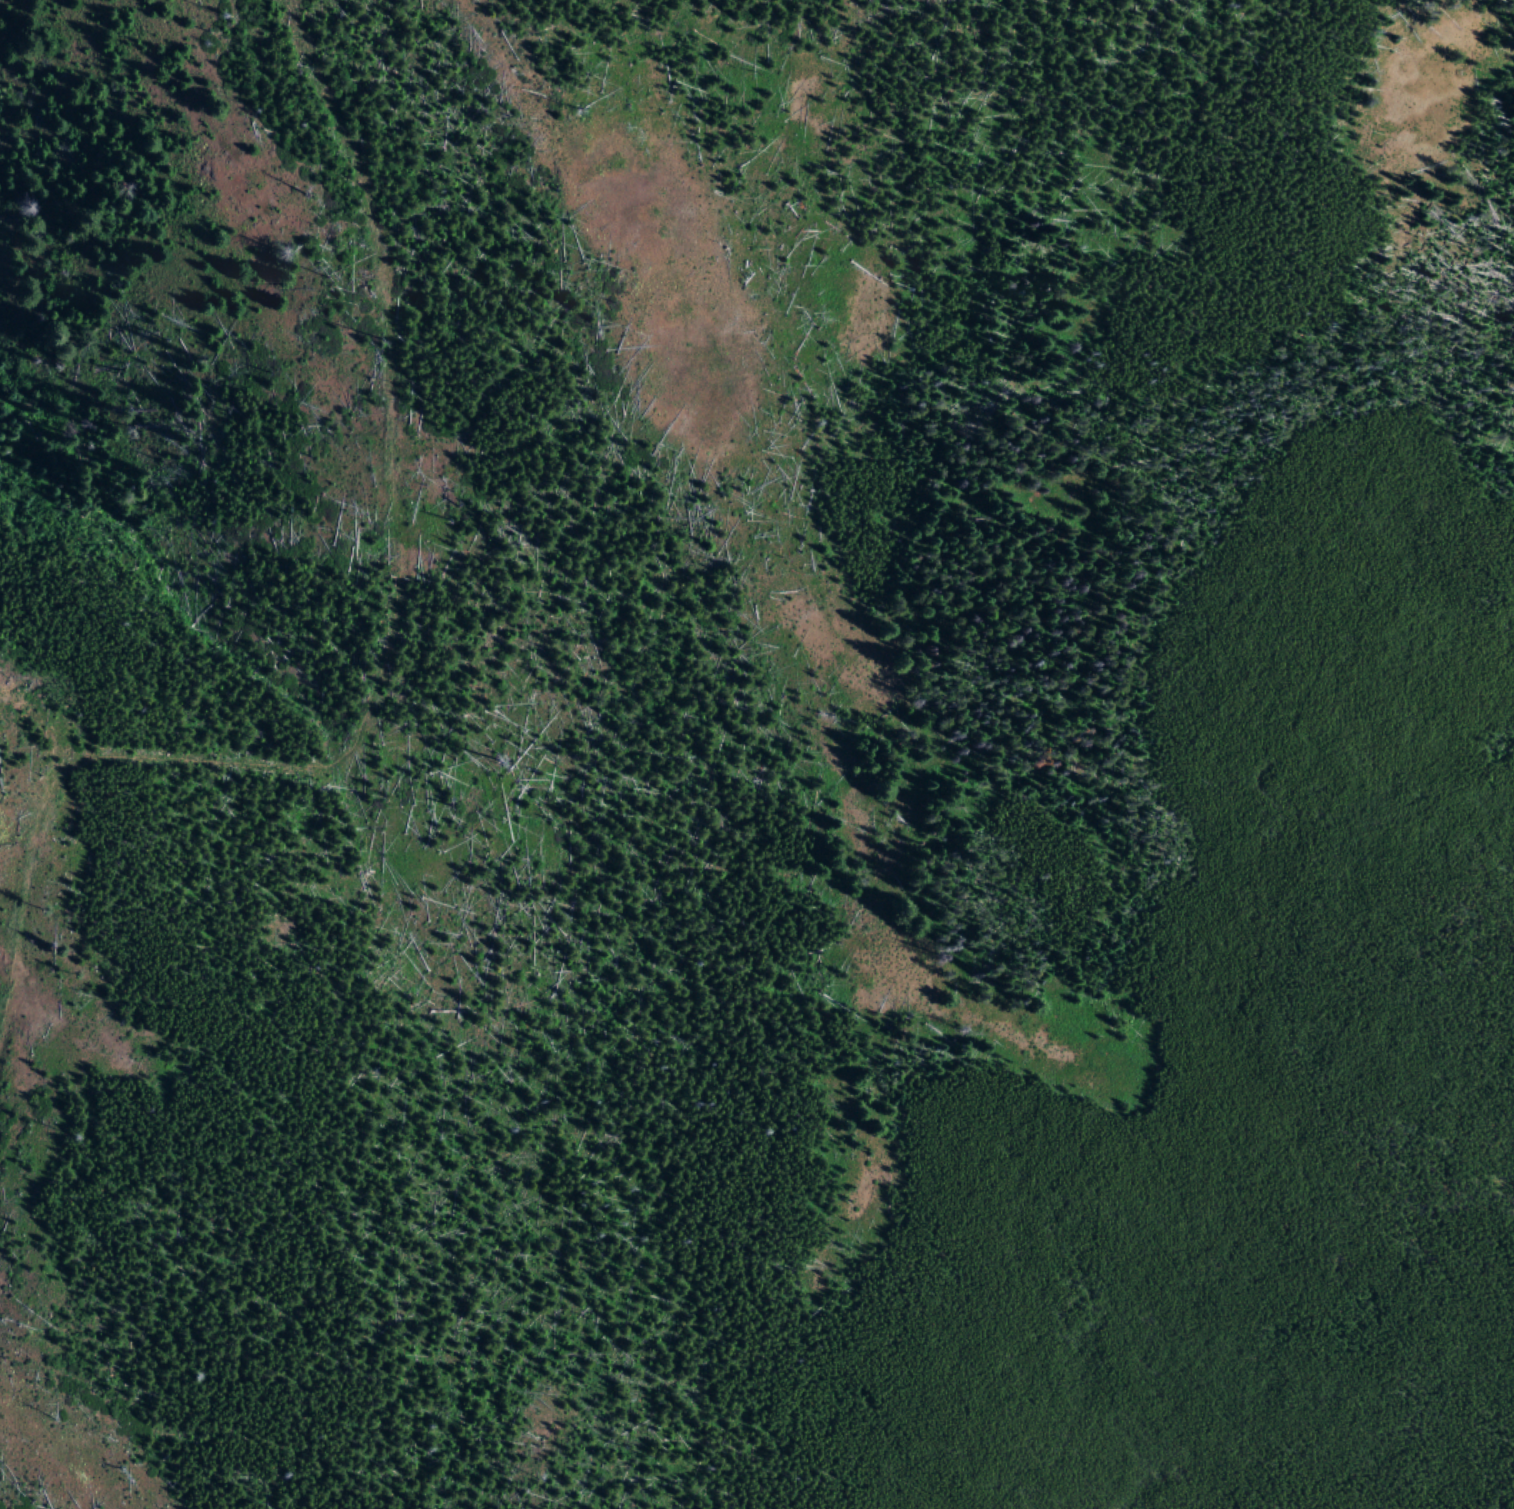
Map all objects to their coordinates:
road: (1433, 52)

